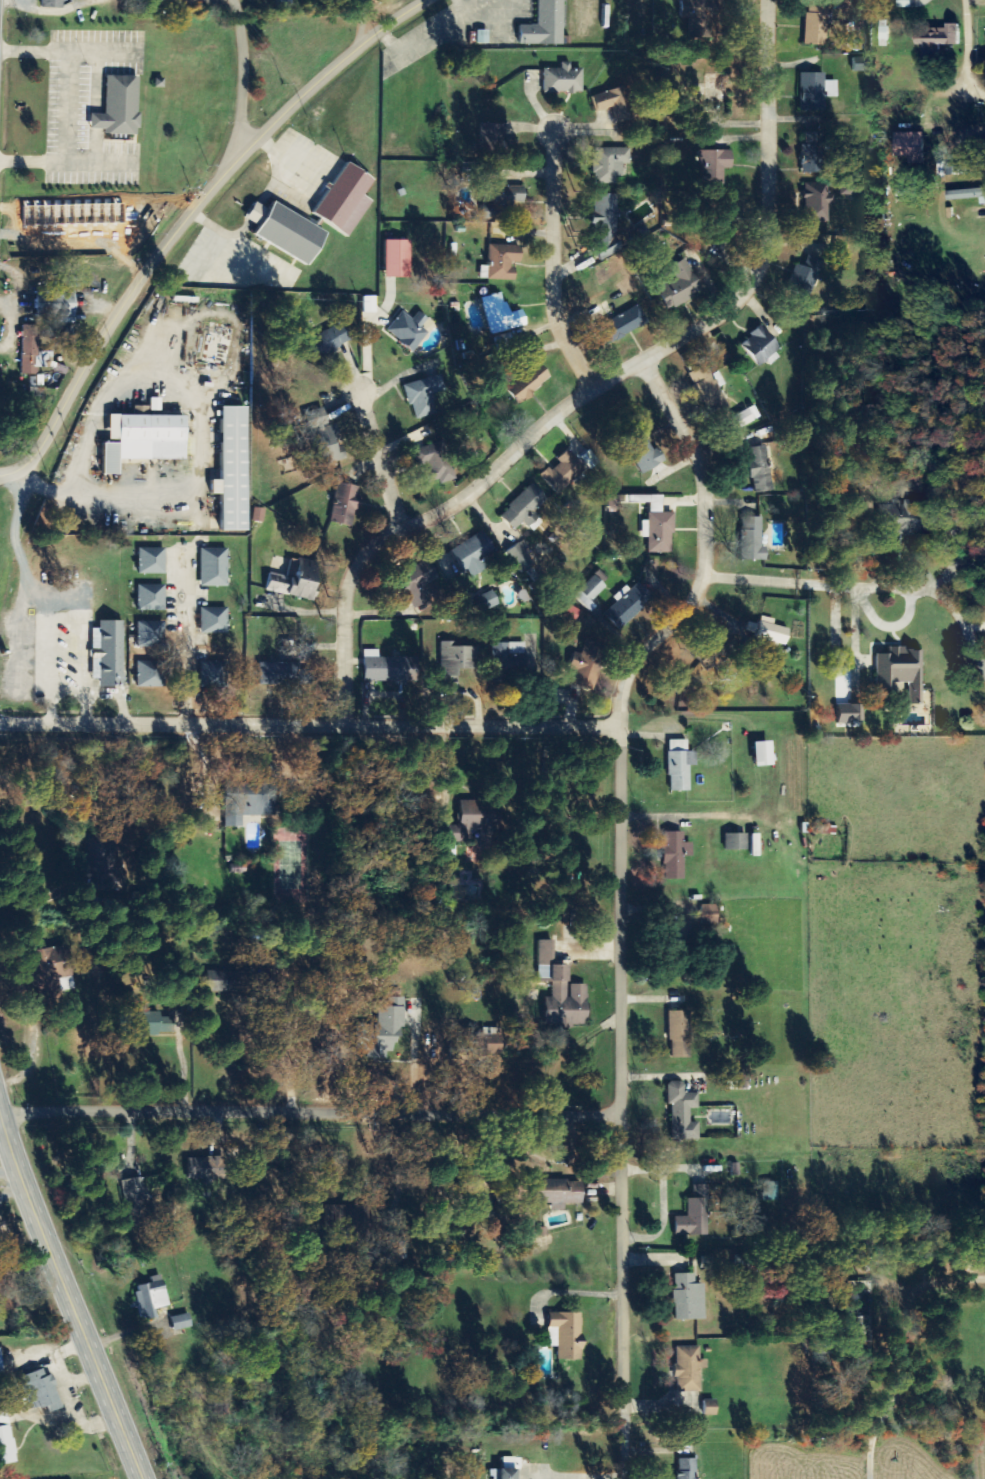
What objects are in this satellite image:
building: (53, 4)
building: (905, 4)
building: (700, 11)
road: (385, 19)
building: (816, 22)
building: (546, 25)
building: (483, 37)
building: (942, 41)
road: (976, 48)
building: (860, 64)
building: (563, 80)
road: (240, 87)
road: (323, 91)
building: (816, 91)
road: (981, 94)
building: (614, 104)
building: (120, 107)
building: (493, 134)
building: (913, 147)
building: (813, 152)
building: (610, 164)
building: (715, 166)
building: (971, 171)
building: (968, 195)
building: (346, 200)
building: (501, 201)
building: (818, 203)
building: (606, 219)
building: (287, 233)
building: (399, 259)
building: (502, 263)
road: (556, 263)
building: (807, 277)
building: (681, 286)
building: (55, 305)
building: (503, 315)
building: (630, 321)
building: (410, 330)
building: (331, 340)
road: (110, 341)
building: (763, 348)
building: (33, 352)
building: (703, 380)
road: (603, 381)
building: (529, 383)
building: (424, 396)
building: (747, 417)
building: (146, 438)
building: (325, 438)
building: (646, 453)
road: (380, 460)
building: (435, 463)
building: (234, 468)
building: (761, 469)
building: (563, 473)
building: (346, 505)
building: (524, 507)
building: (910, 519)
building: (752, 540)
building: (475, 554)
building: (520, 558)
building: (152, 561)
building: (214, 568)
building: (297, 580)
building: (419, 583)
road: (863, 584)
building: (591, 593)
building: (152, 598)
building: (629, 605)
building: (572, 615)
building: (215, 621)
building: (770, 631)
building: (151, 634)
road: (187, 634)
building: (716, 651)
building: (110, 654)
building: (458, 661)
building: (508, 663)
building: (589, 666)
building: (389, 668)
building: (902, 673)
building: (150, 674)
building: (214, 675)
building: (285, 675)
building: (857, 713)
road: (309, 724)
building: (764, 754)
building: (681, 766)
building: (248, 802)
building: (475, 823)
building: (736, 842)
building: (755, 846)
building: (676, 856)
building: (97, 857)
building: (240, 869)
road: (625, 896)
building: (710, 916)
building: (685, 935)
building: (46, 970)
building: (226, 981)
building: (562, 992)
building: (159, 1024)
building: (383, 1031)
building: (681, 1035)
building: (493, 1042)
building: (737, 1082)
building: (684, 1113)
road: (326, 1121)
road: (9, 1134)
building: (207, 1169)
building: (772, 1192)
building: (559, 1193)
building: (136, 1201)
building: (486, 1201)
building: (696, 1216)
building: (345, 1219)
building: (498, 1234)
road: (65, 1279)
building: (152, 1298)
building: (689, 1299)
building: (182, 1323)
building: (864, 1335)
building: (567, 1336)
building: (1, 1366)
building: (690, 1369)
building: (41, 1391)
building: (711, 1408)
building: (4, 1418)
building: (7, 1447)
road: (872, 1460)
building: (688, 1469)
building: (505, 1474)

